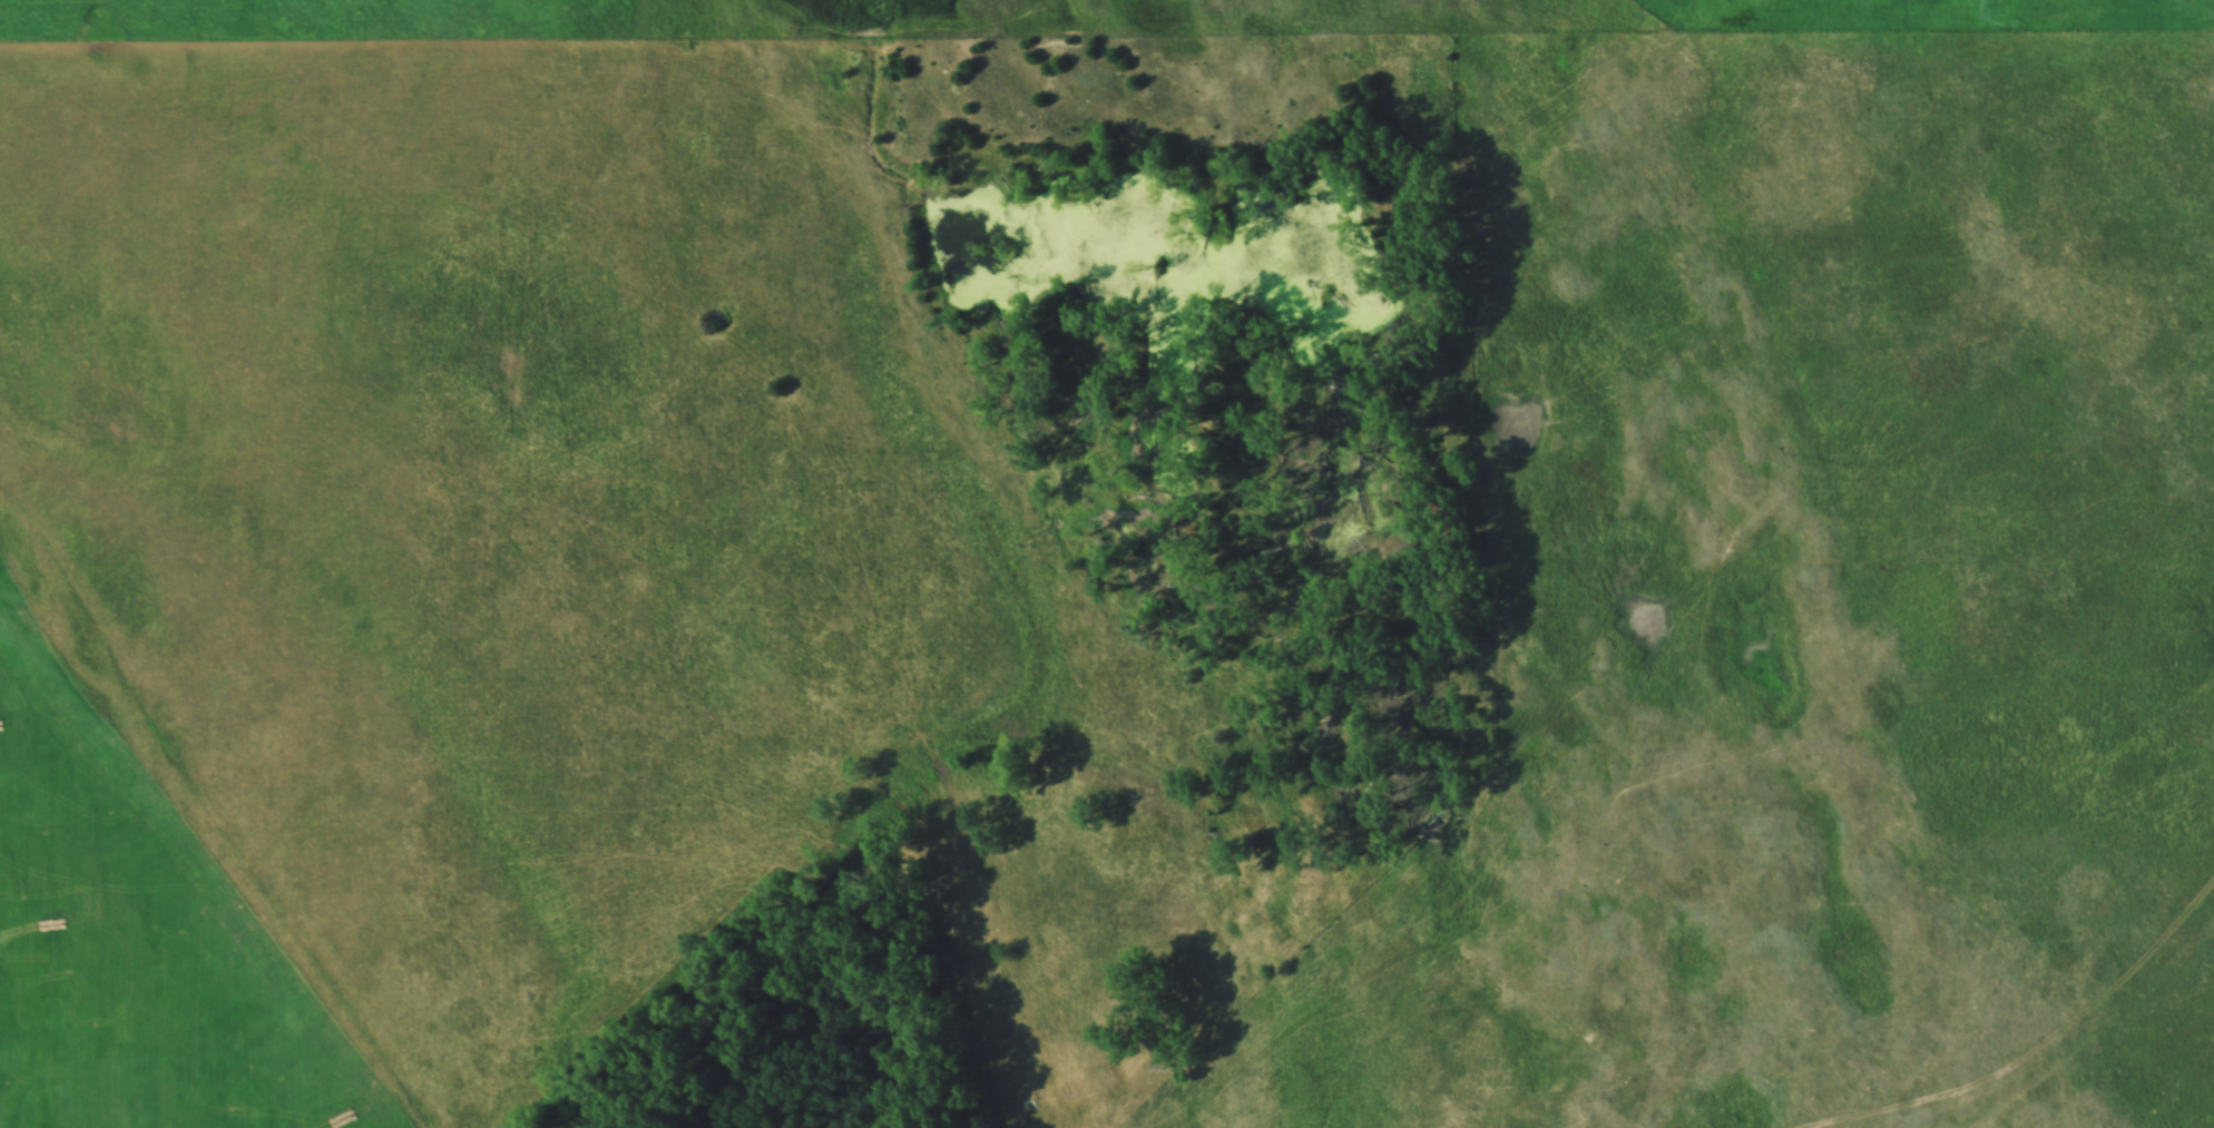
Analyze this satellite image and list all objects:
road: (2039, 1047)

